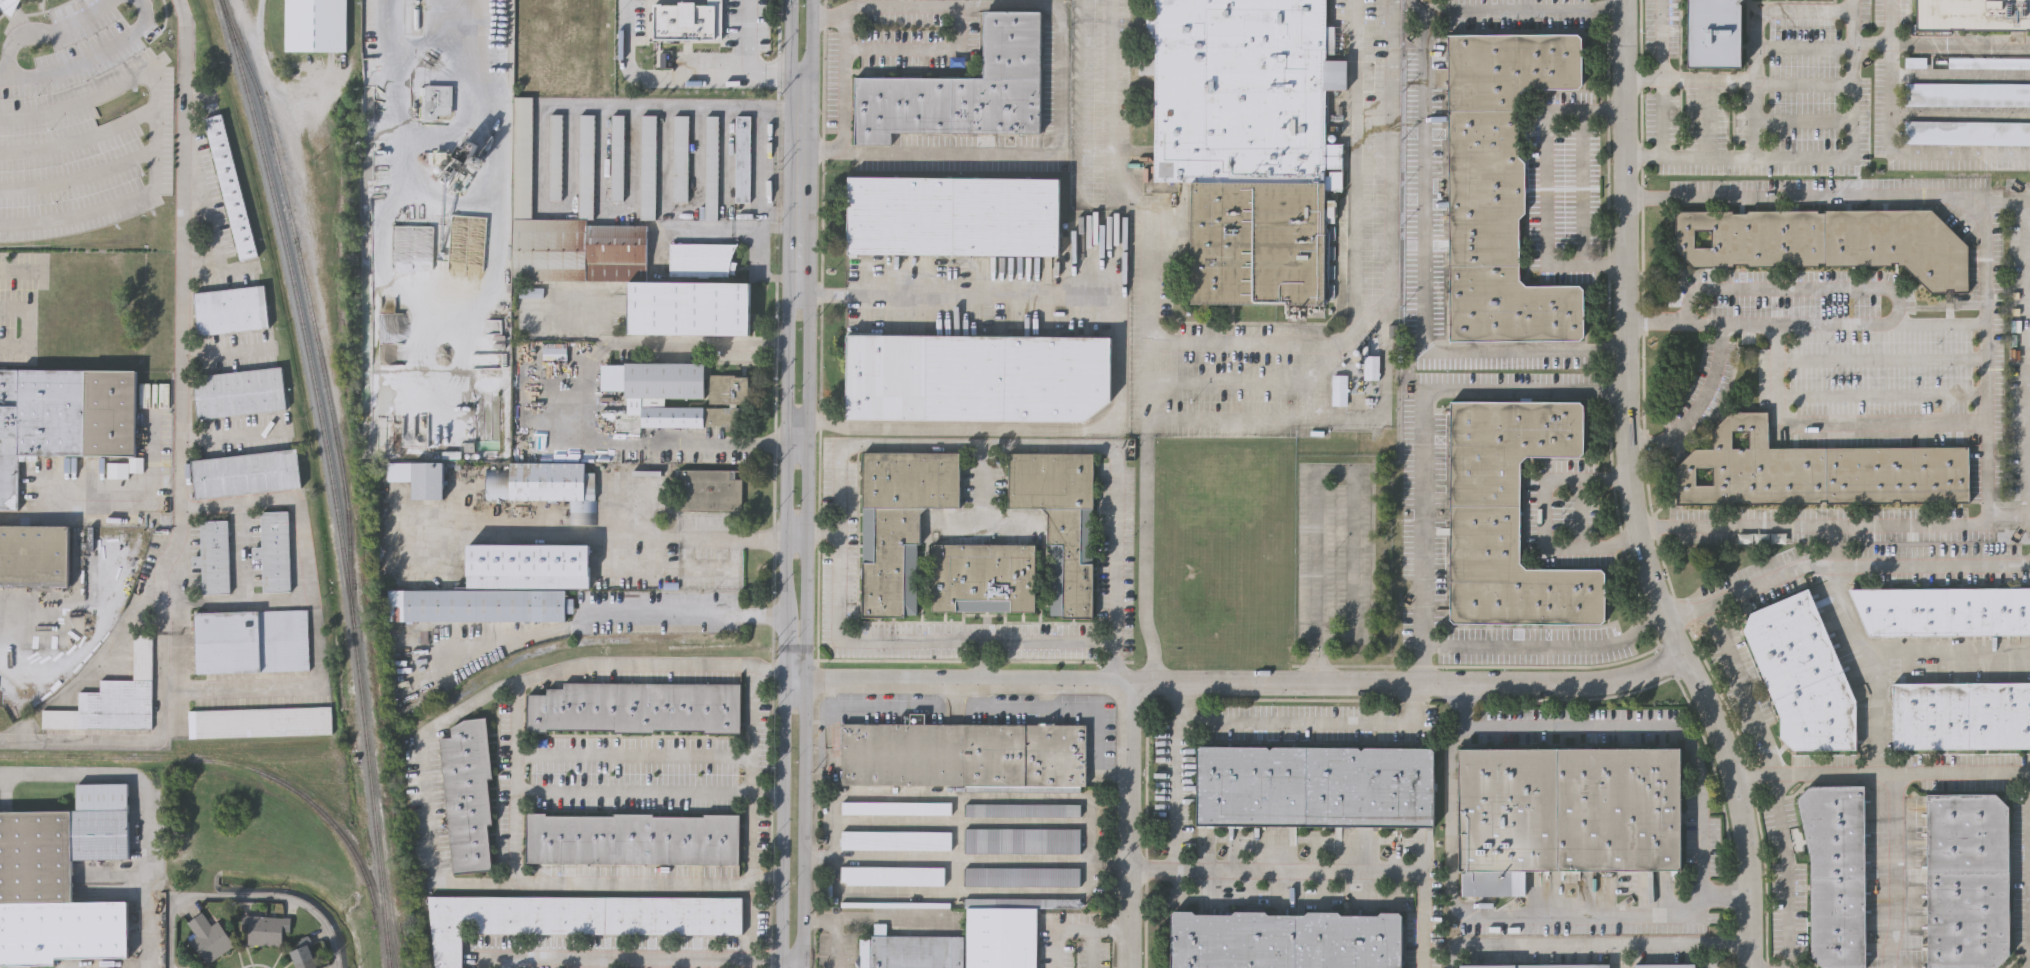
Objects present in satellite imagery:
building: (5, 4)
road: (1525, 13)
building: (1972, 16)
building: (684, 21)
building: (315, 24)
road: (47, 33)
building: (1715, 33)
road: (1657, 38)
road: (1873, 44)
road: (1756, 46)
road: (1959, 46)
road: (922, 48)
road: (748, 55)
road: (90, 57)
building: (1967, 64)
parking lot: (1967, 64)
road: (1058, 76)
road: (1643, 77)
road: (3, 78)
road: (656, 78)
road: (803, 78)
road: (1805, 78)
road: (842, 79)
building: (963, 89)
building: (1967, 94)
parking lot: (1967, 94)
building: (437, 101)
road: (541, 104)
road: (802, 108)
road: (1752, 118)
parking lot: (82, 120)
road: (158, 128)
building: (1966, 132)
parking lot: (1966, 132)
road: (81, 139)
building: (1246, 142)
road: (1891, 145)
road: (1646, 154)
building: (618, 155)
building: (681, 155)
building: (556, 156)
building: (742, 157)
road: (1796, 158)
building: (587, 165)
building: (649, 166)
building: (713, 166)
road: (1390, 167)
building: (461, 172)
road: (759, 174)
road: (81, 177)
road: (1581, 184)
building: (1498, 185)
building: (230, 186)
road: (1545, 187)
road: (1829, 197)
building: (504, 212)
building: (954, 215)
road: (800, 216)
road: (729, 227)
building: (568, 232)
railway: (120, 240)
building: (1827, 240)
building: (703, 261)
road: (757, 264)
road: (21, 271)
road: (1423, 277)
road: (1810, 286)
road: (798, 292)
road: (855, 293)
parking lot: (20, 303)
building: (688, 307)
building: (232, 308)
road: (184, 317)
road: (1838, 325)
road: (27, 326)
road: (1239, 344)
road: (227, 352)
road: (2028, 359)
building: (1372, 366)
building: (1861, 370)
building: (978, 375)
road: (1236, 379)
road: (1708, 387)
building: (729, 388)
building: (1339, 389)
building: (241, 390)
road: (588, 395)
building: (662, 395)
road: (1115, 403)
building: (62, 416)
road: (1235, 417)
road: (1813, 426)
road: (1419, 433)
road: (233, 435)
road: (796, 442)
building: (118, 471)
building: (247, 471)
building: (1818, 471)
railway: (330, 479)
building: (428, 479)
road: (785, 483)
road: (807, 483)
road: (983, 485)
building: (549, 486)
road: (1315, 488)
building: (712, 491)
road: (1632, 494)
road: (115, 506)
road: (1583, 512)
building: (1511, 514)
road: (1542, 516)
building: (1063, 519)
road: (2009, 519)
building: (901, 521)
road: (1974, 523)
road: (590, 535)
road: (796, 535)
road: (821, 536)
road: (835, 541)
building: (276, 548)
building: (34, 554)
building: (214, 555)
road: (1842, 558)
building: (530, 564)
road: (1147, 564)
road: (1111, 565)
road: (300, 566)
railway: (128, 568)
building: (985, 575)
building: (477, 605)
building: (1944, 609)
road: (686, 614)
road: (28, 619)
building: (252, 639)
road: (1548, 646)
road: (1951, 650)
road: (984, 659)
road: (1874, 661)
building: (1803, 674)
railway: (495, 675)
road: (1238, 681)
road: (1740, 686)
road: (241, 689)
road: (878, 693)
road: (1045, 694)
building: (113, 697)
building: (638, 706)
road: (870, 706)
road: (1054, 708)
building: (1961, 715)
building: (260, 720)
road: (1313, 721)
road: (1654, 726)
road: (154, 740)
road: (20, 741)
building: (968, 754)
road: (634, 755)
railway: (95, 758)
road: (1880, 769)
parking lot: (634, 774)
road: (1172, 774)
road: (754, 775)
building: (1315, 784)
road: (515, 785)
road: (650, 791)
road: (429, 792)
building: (469, 792)
road: (146, 803)
building: (899, 806)
building: (1023, 808)
building: (1508, 810)
building: (1620, 810)
railway: (329, 823)
road: (1129, 824)
building: (634, 837)
building: (898, 838)
building: (1023, 839)
road: (965, 858)
road: (1892, 868)
road: (1786, 870)
road: (1321, 872)
building: (1837, 872)
building: (895, 874)
building: (1023, 875)
building: (61, 879)
building: (1968, 879)
road: (243, 894)
building: (1022, 901)
building: (897, 902)
road: (1493, 912)
building: (578, 915)
road: (1071, 927)
building: (266, 929)
road: (749, 937)
building: (1002, 937)
building: (210, 938)
building: (1234, 939)
building: (1349, 939)
road: (1596, 945)
building: (911, 950)
building: (304, 955)
road: (1618, 956)
road: (1708, 956)
road: (647, 957)
road: (510, 961)
road: (793, 961)
building: (1538, 965)
building: (1666, 966)

